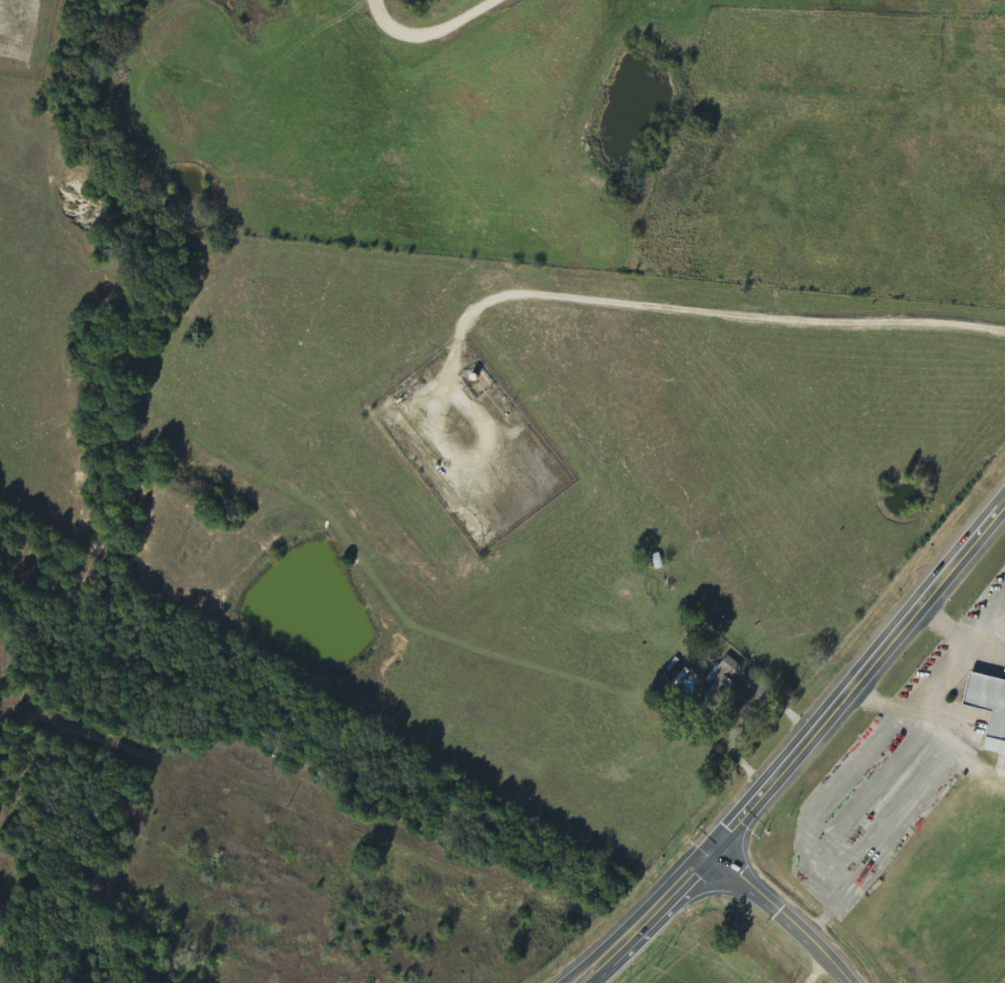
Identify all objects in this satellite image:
road: (858, 680)
building: (715, 691)
building: (988, 709)
road: (783, 917)
road: (637, 919)
road: (649, 919)

